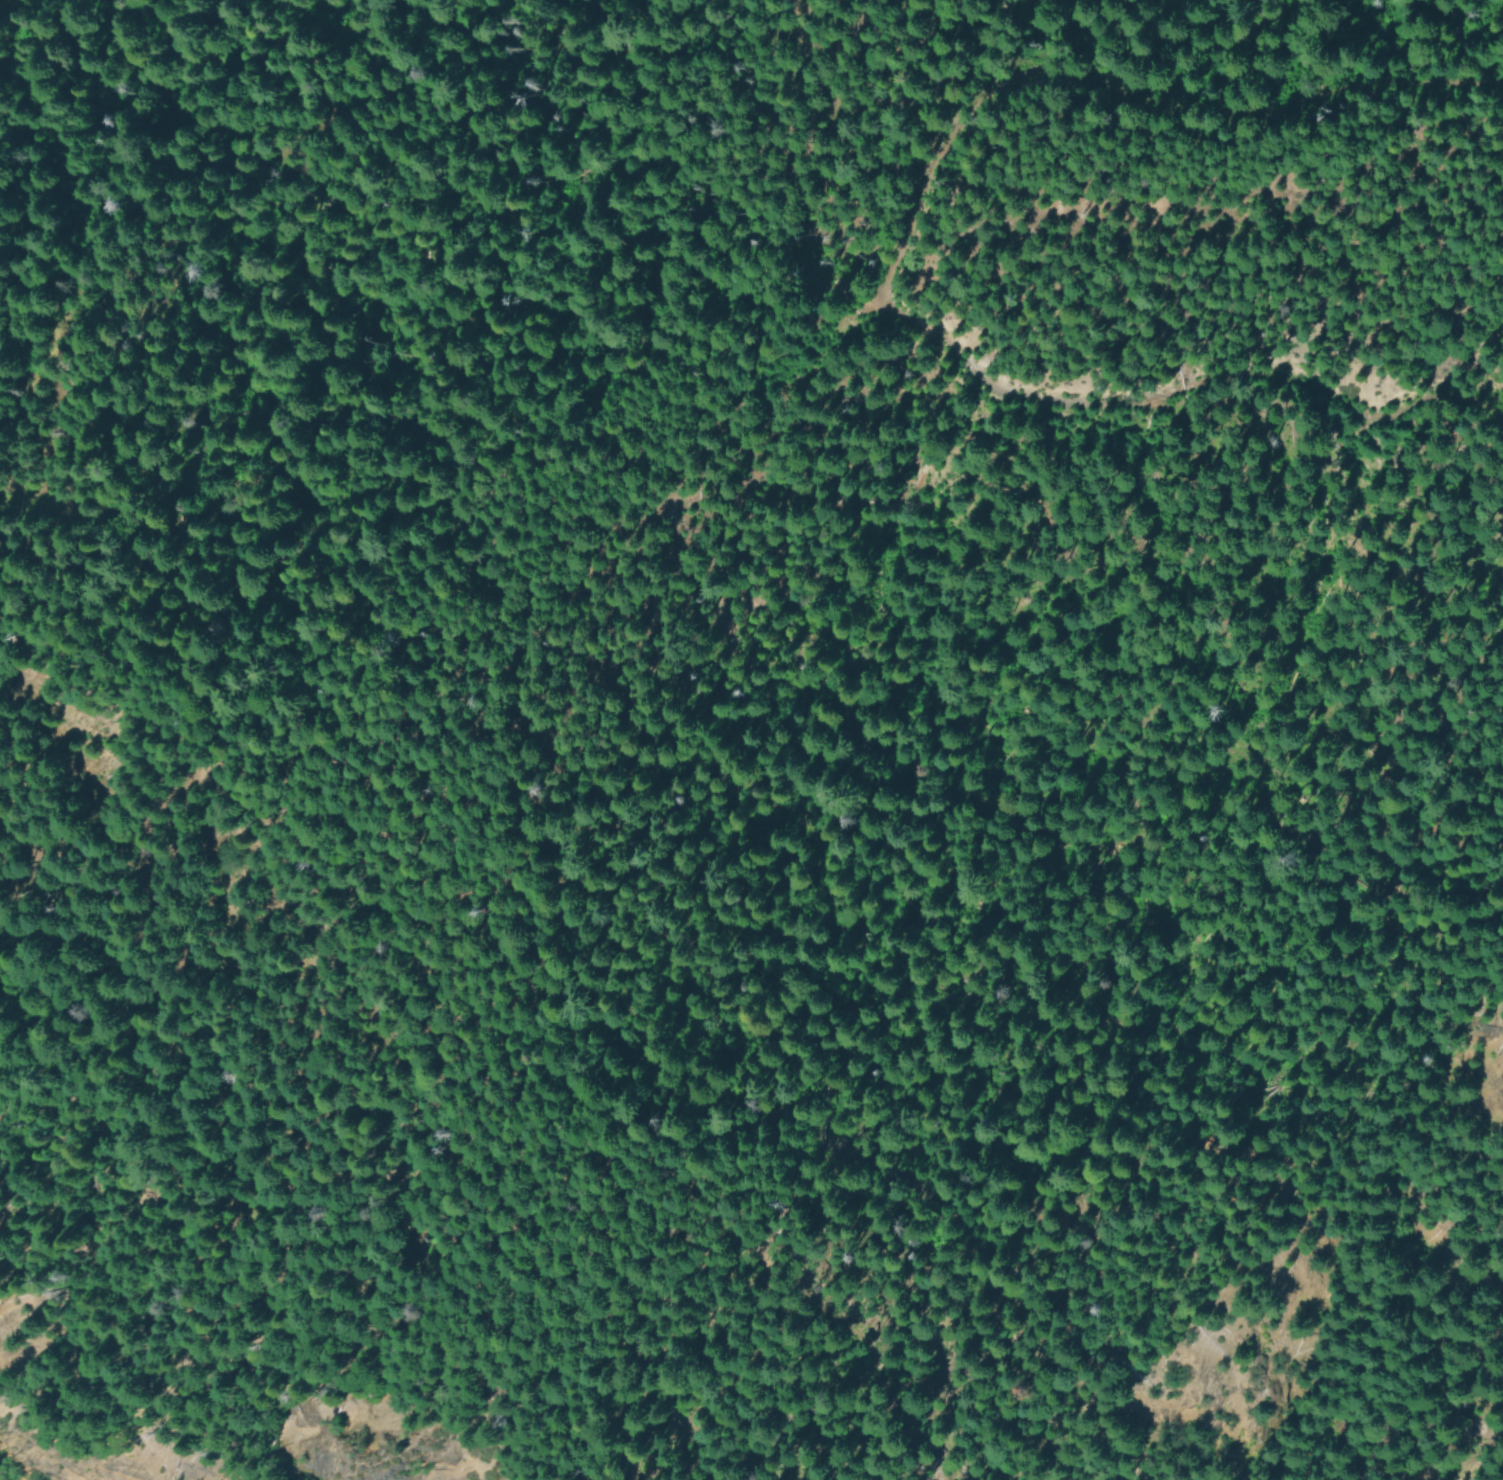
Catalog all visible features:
road: (1143, 1199)
road: (313, 1222)

